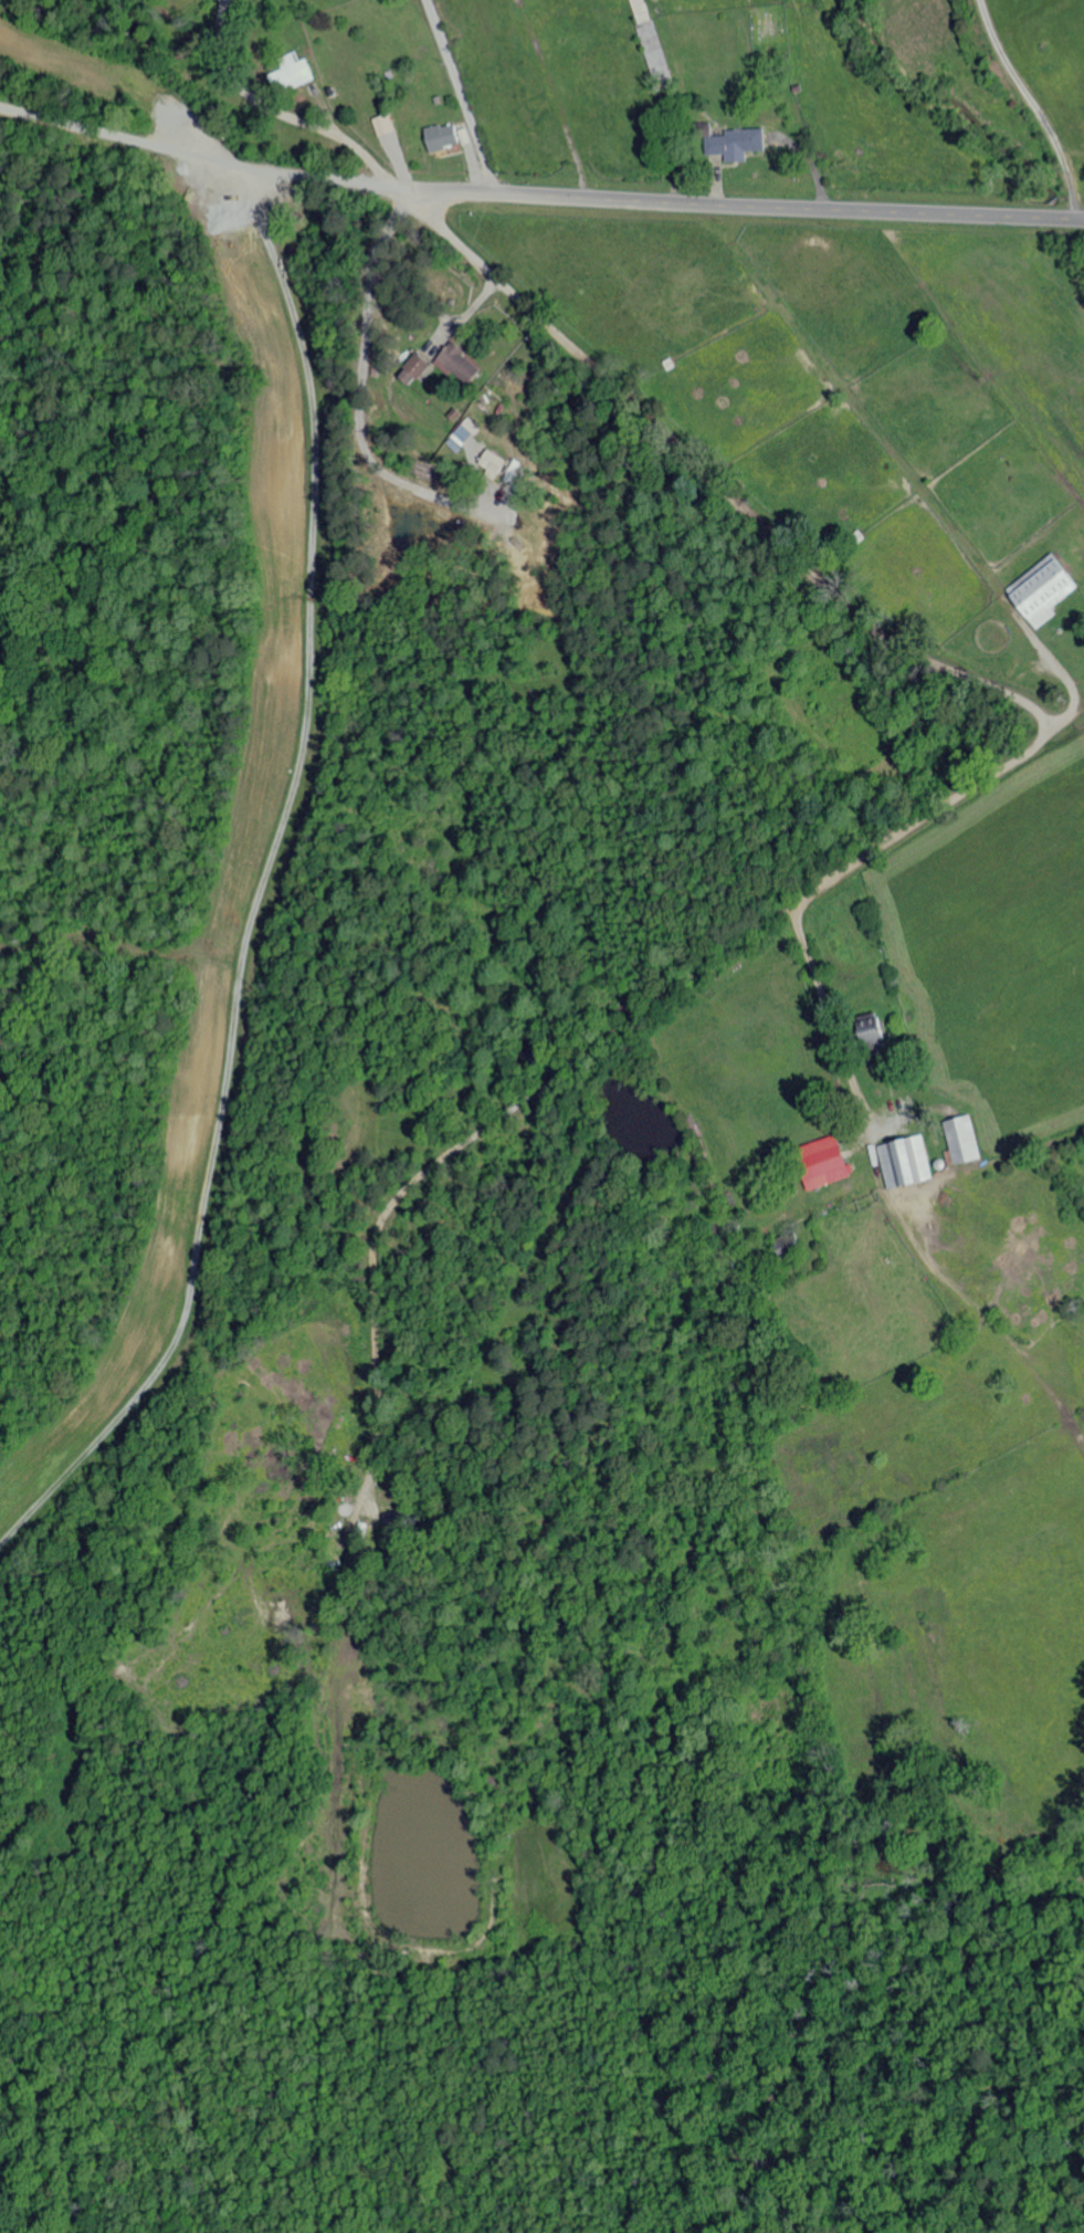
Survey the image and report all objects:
road: (219, 4)
building: (290, 72)
road: (463, 95)
road: (1034, 106)
road: (284, 112)
building: (440, 136)
building: (730, 140)
road: (204, 158)
road: (748, 207)
building: (456, 363)
building: (411, 369)
building: (464, 431)
building: (491, 463)
road: (828, 590)
building: (1042, 590)
road: (829, 1024)
road: (472, 1134)
building: (961, 1140)
building: (821, 1162)
building: (904, 1162)

